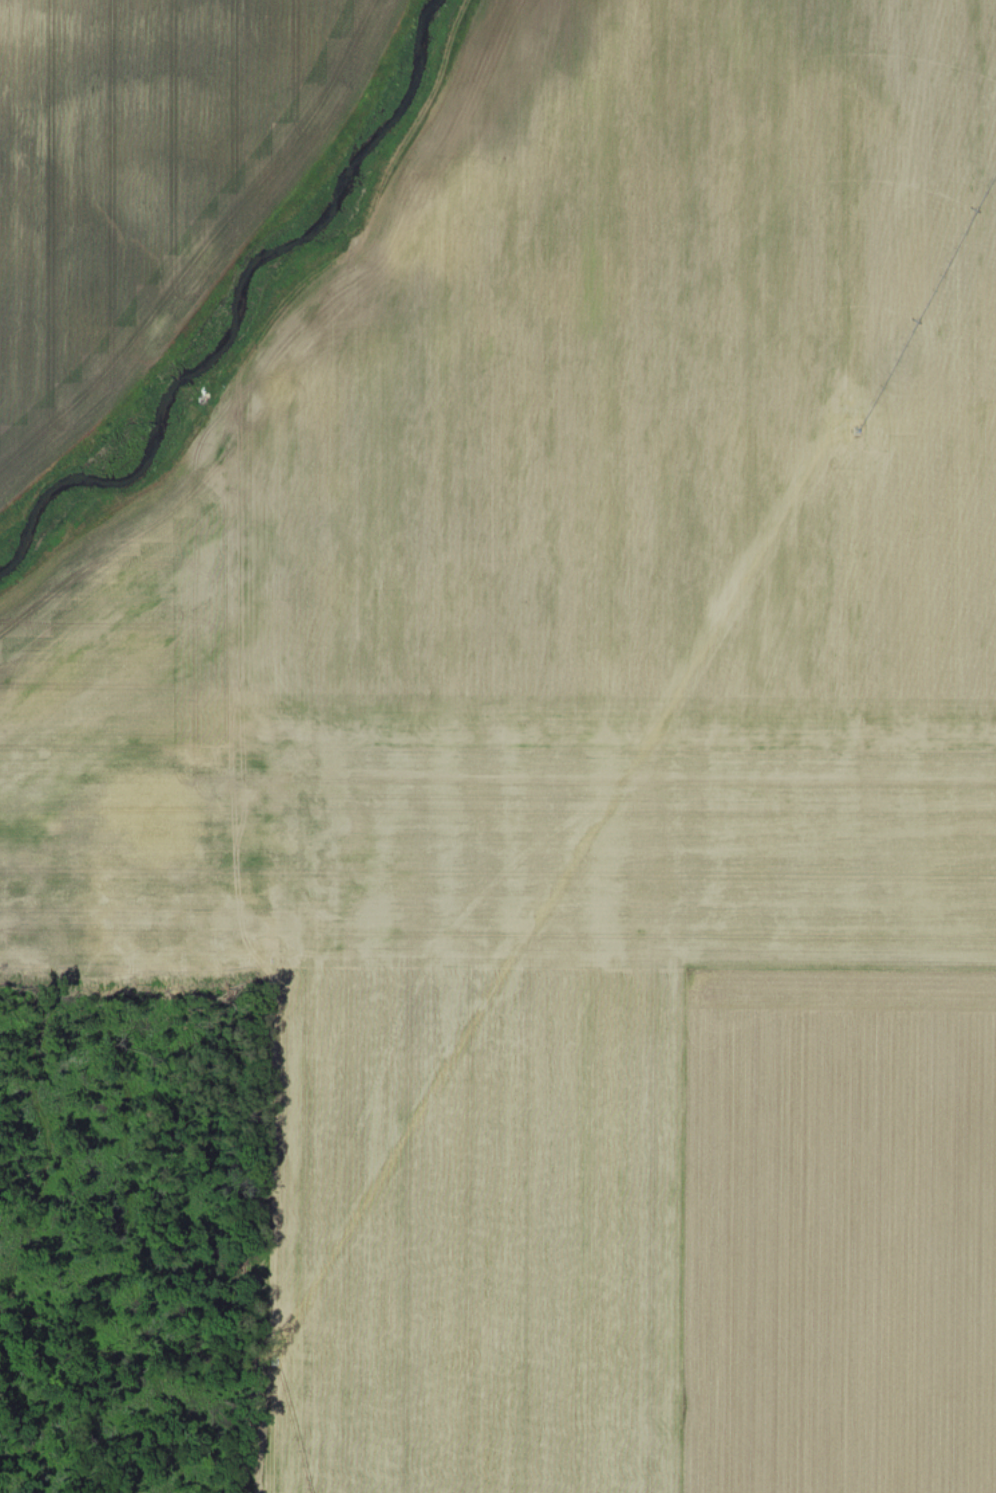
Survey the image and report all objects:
building: (767, 984)

